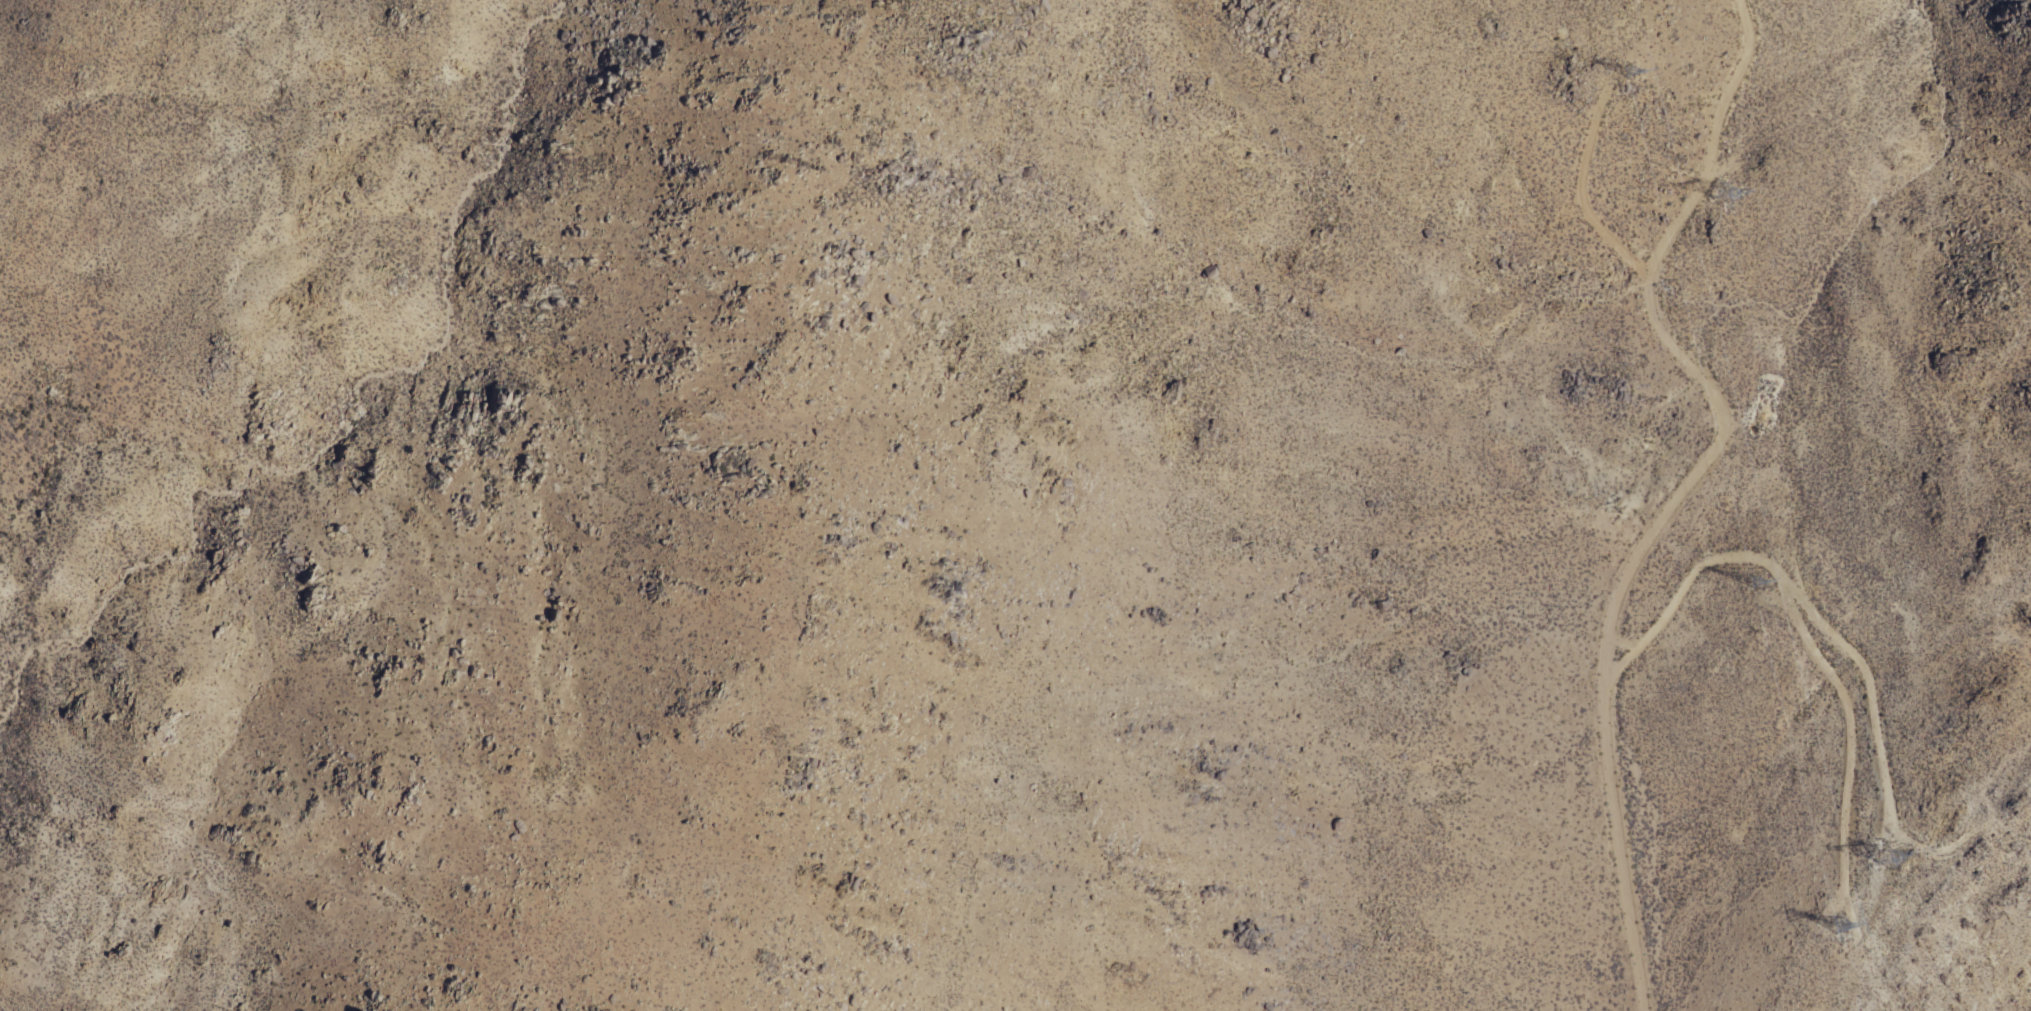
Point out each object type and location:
power tower: (1625, 71)
road: (1576, 191)
power tower: (1725, 194)
road: (1710, 434)
power tower: (1755, 586)
road: (1804, 635)
road: (1865, 688)
power tower: (1893, 856)
power tower: (1837, 927)
road: (1627, 945)

